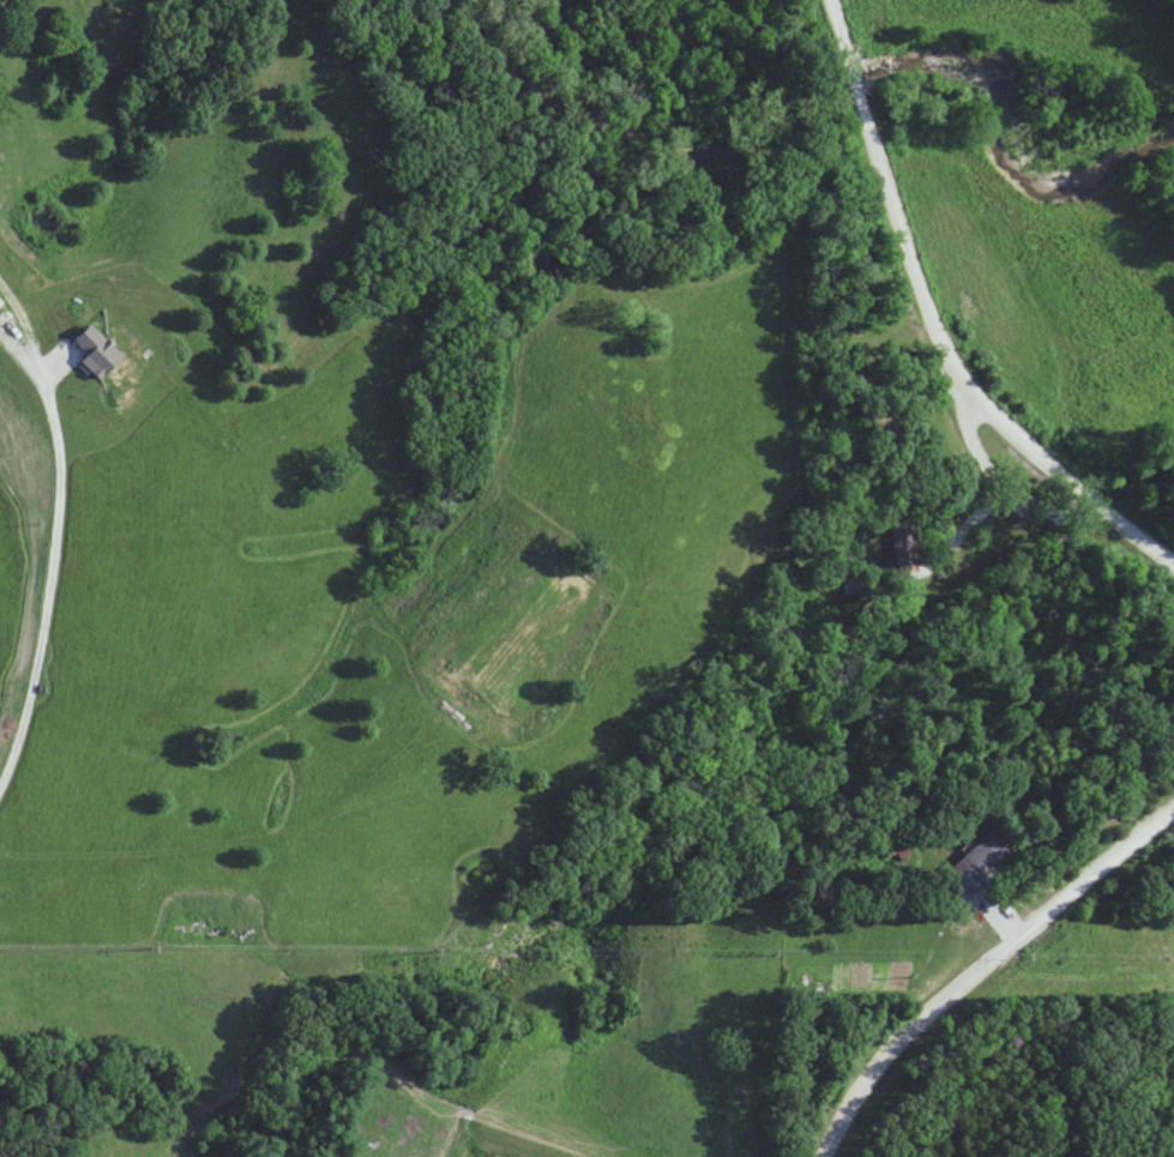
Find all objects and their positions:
building: (0, 303)
road: (935, 317)
building: (96, 351)
building: (1054, 516)
building: (904, 548)
building: (976, 860)
road: (973, 968)

